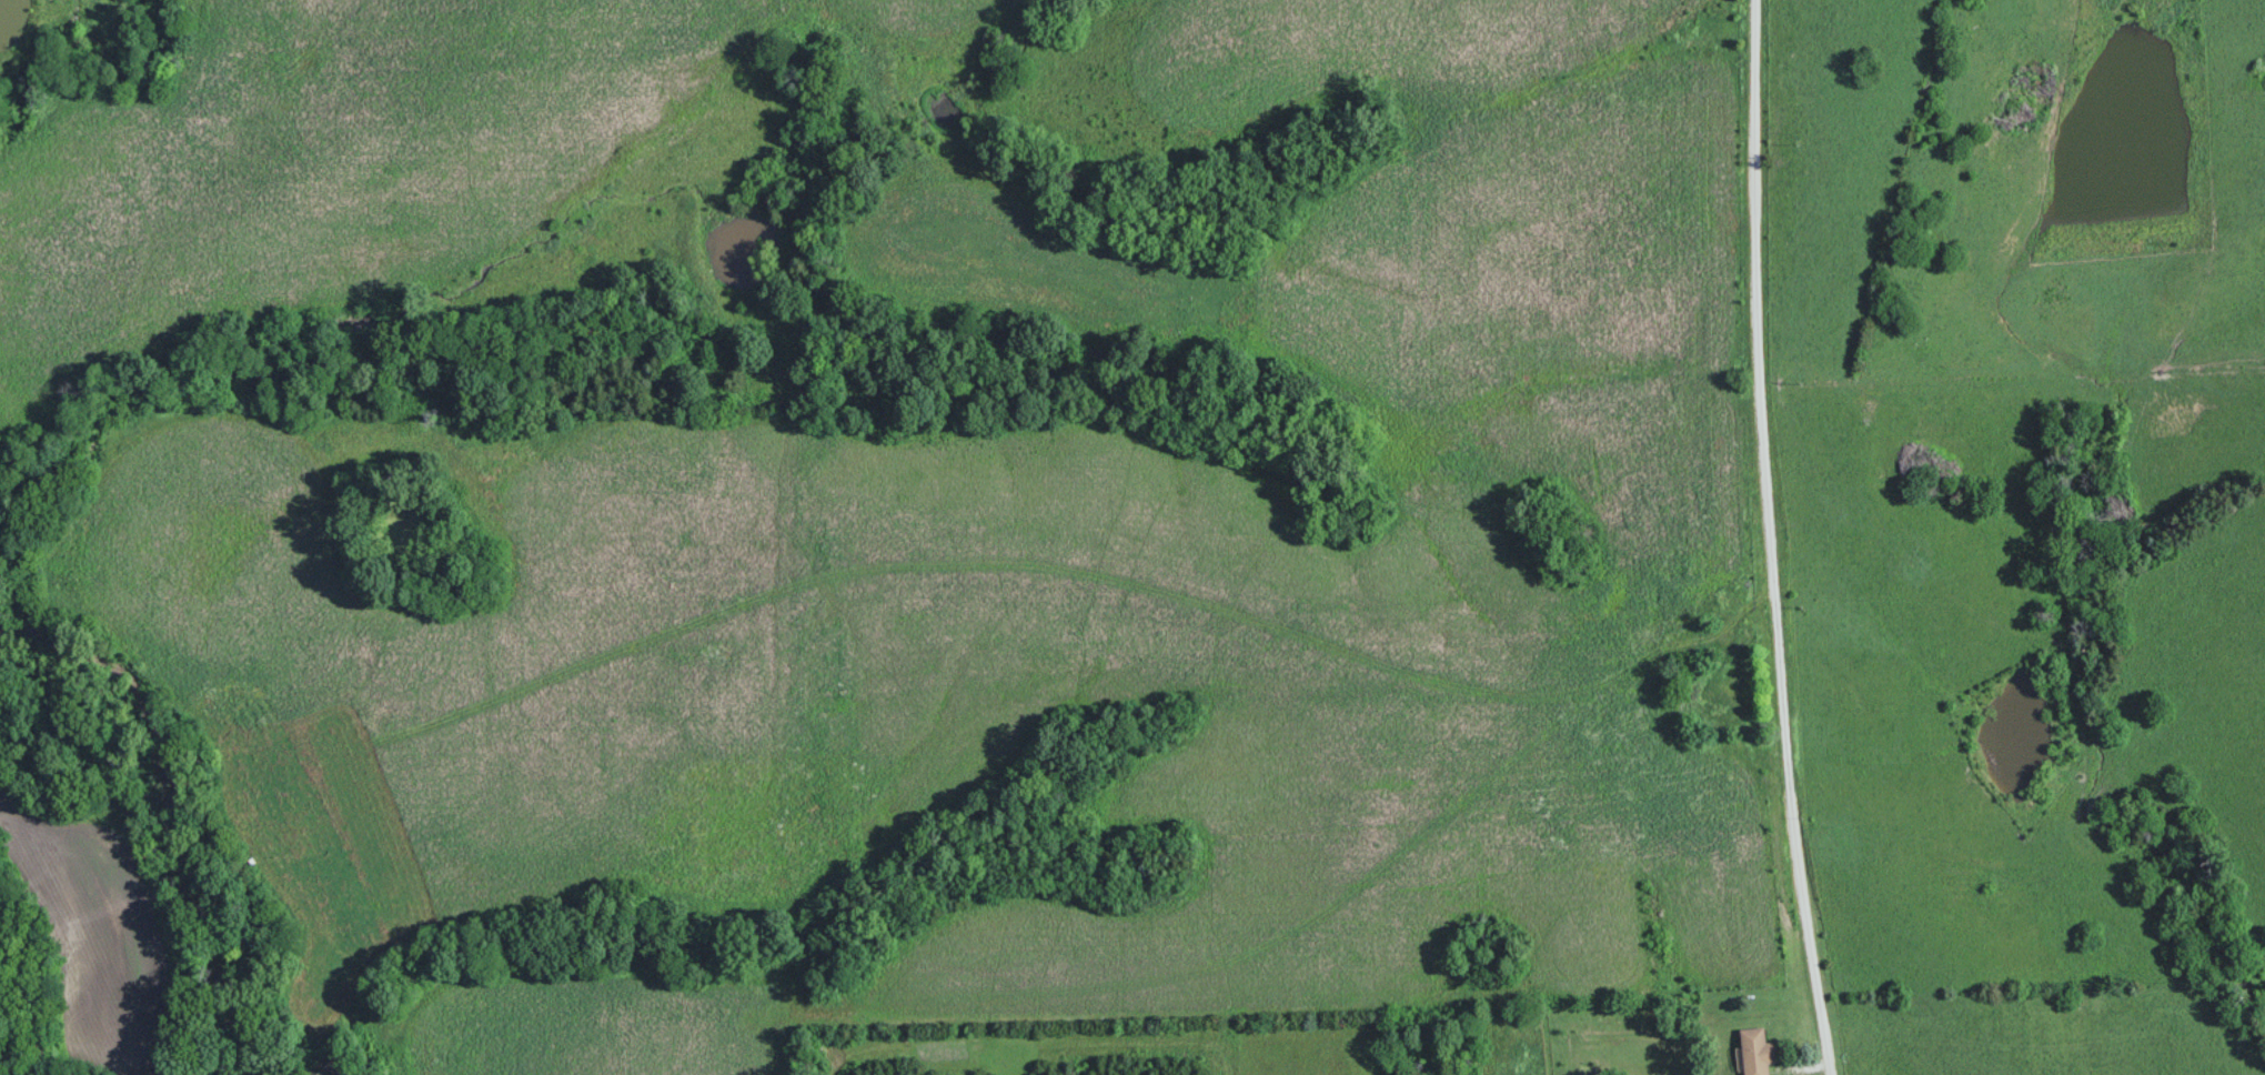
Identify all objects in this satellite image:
road: (1772, 539)
building: (1758, 1053)

